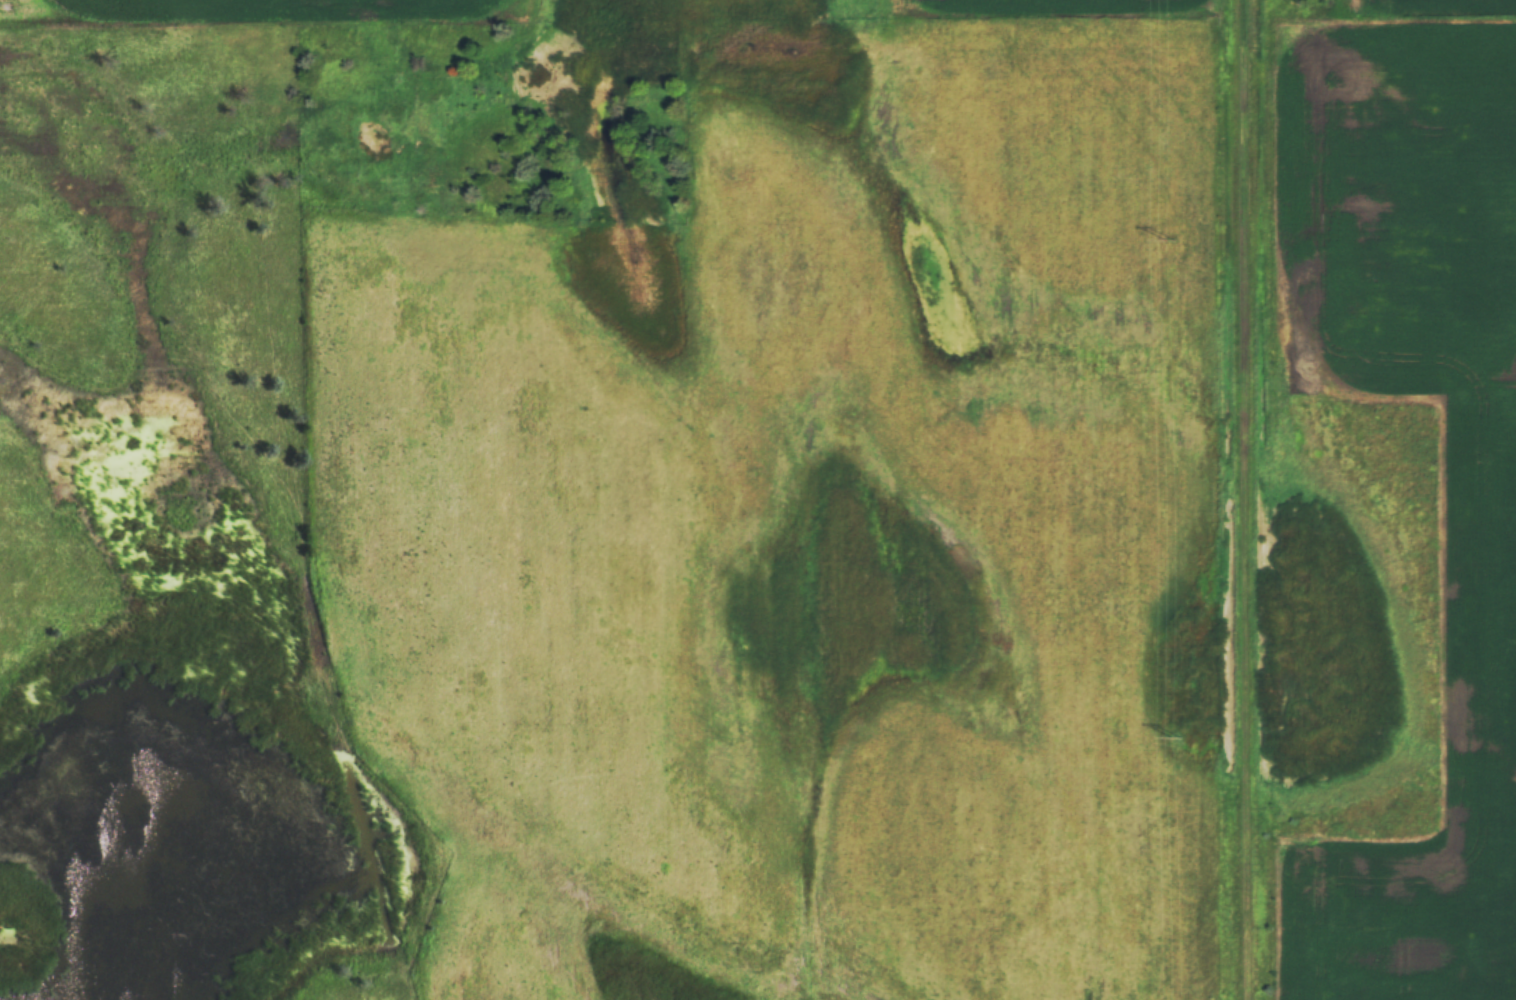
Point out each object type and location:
power tower: (1170, 242)
road: (1253, 499)
power tower: (1177, 739)

